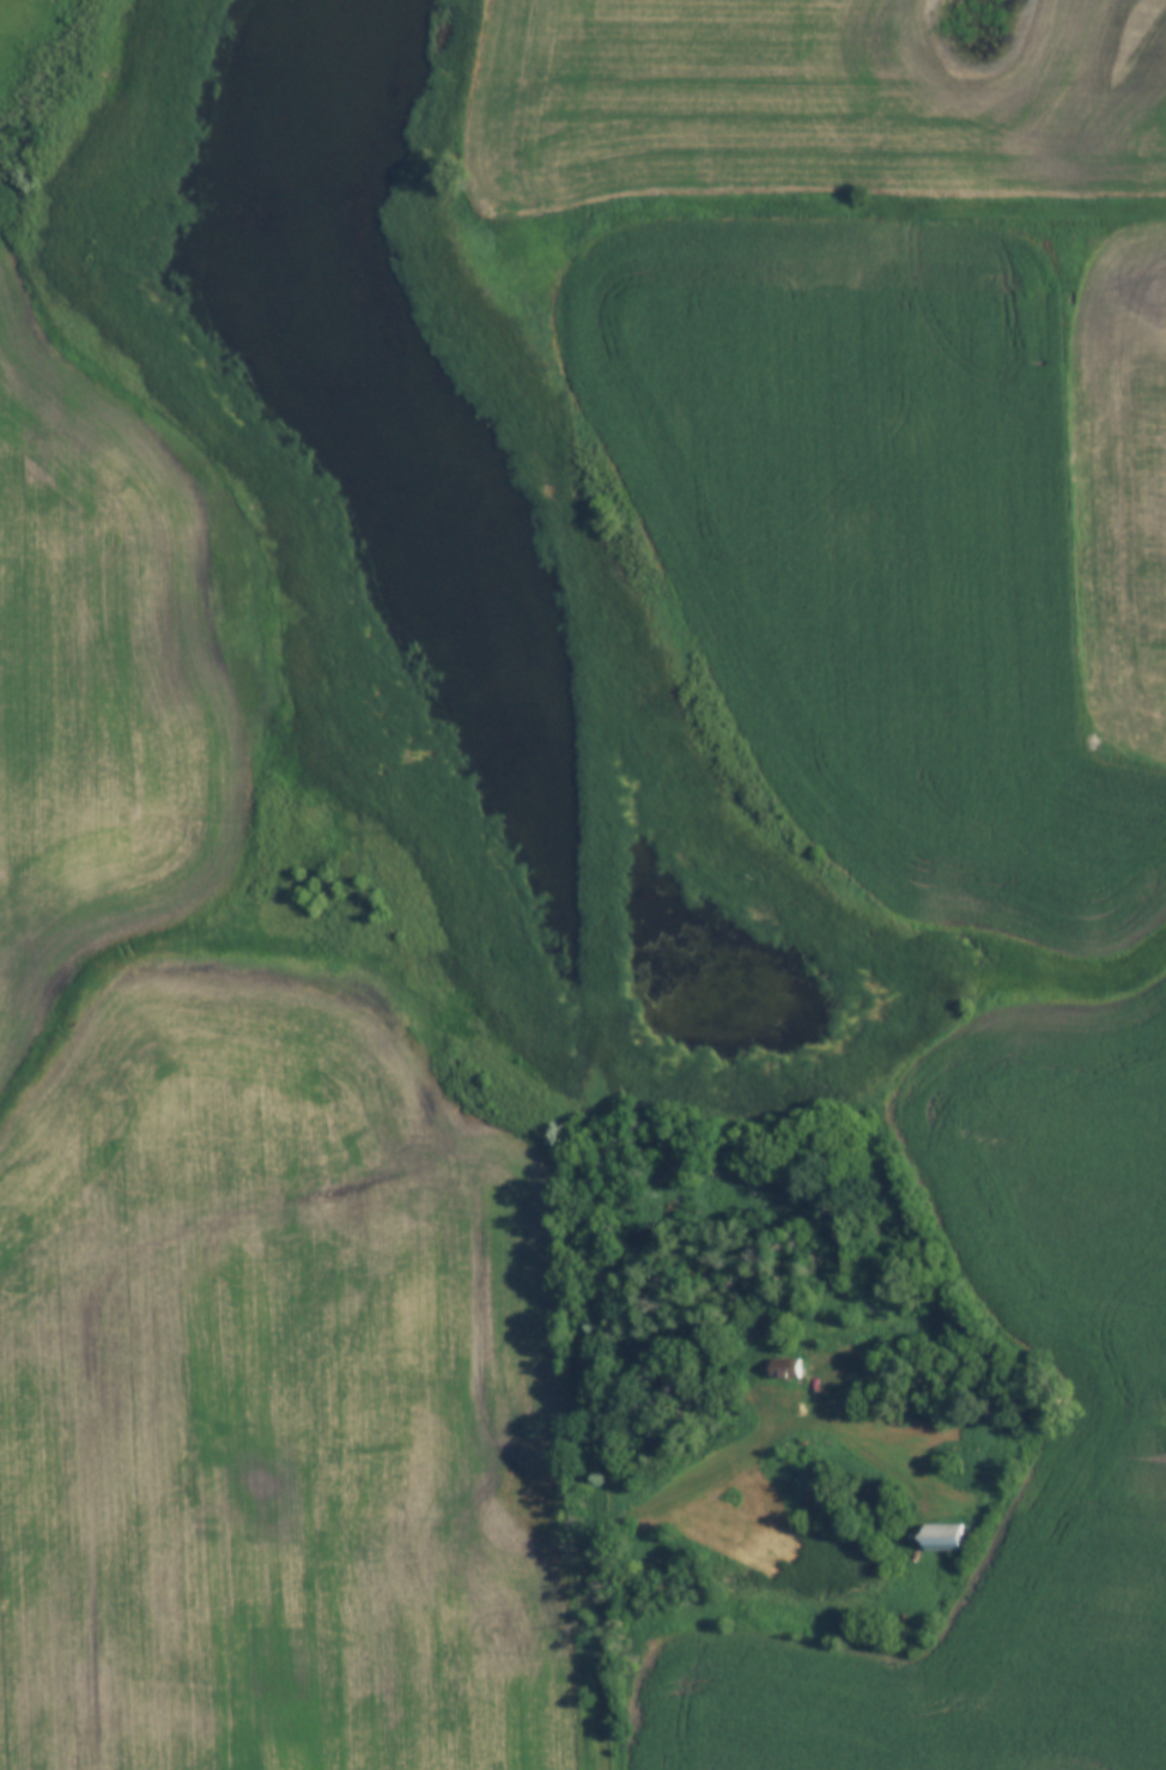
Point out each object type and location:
building: (785, 1369)
building: (943, 1538)
road: (625, 1548)

